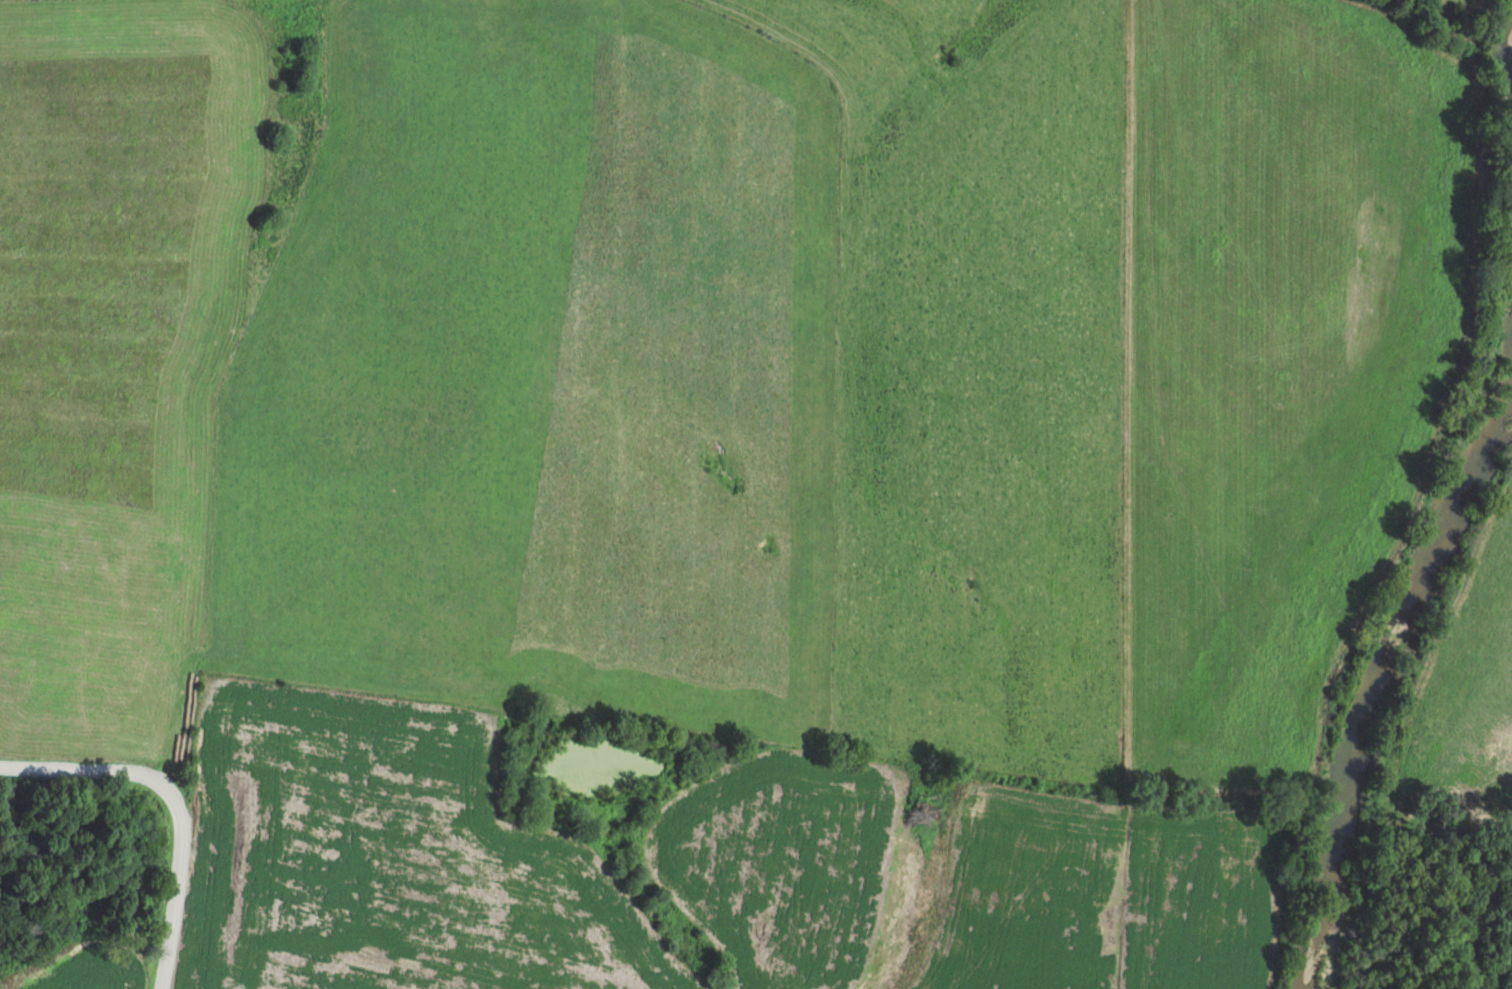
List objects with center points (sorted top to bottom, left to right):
road: (138, 835)

